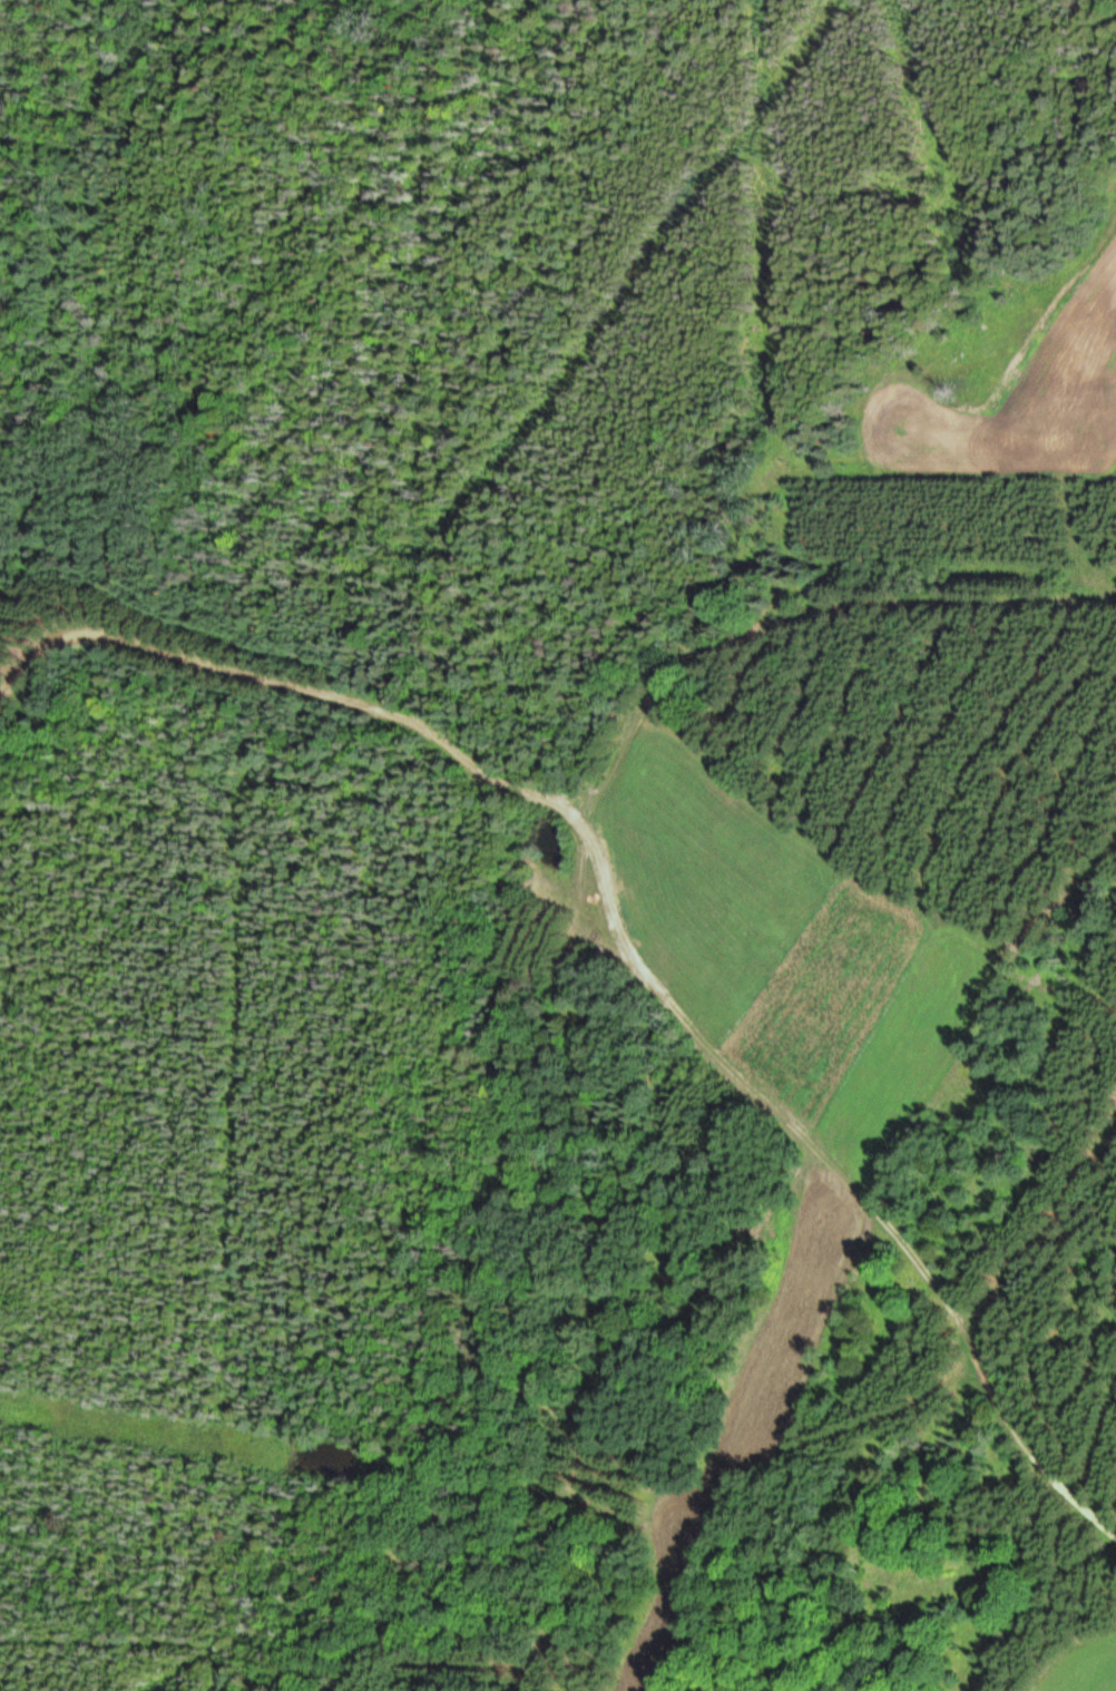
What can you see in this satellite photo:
road: (797, 615)
road: (608, 950)

